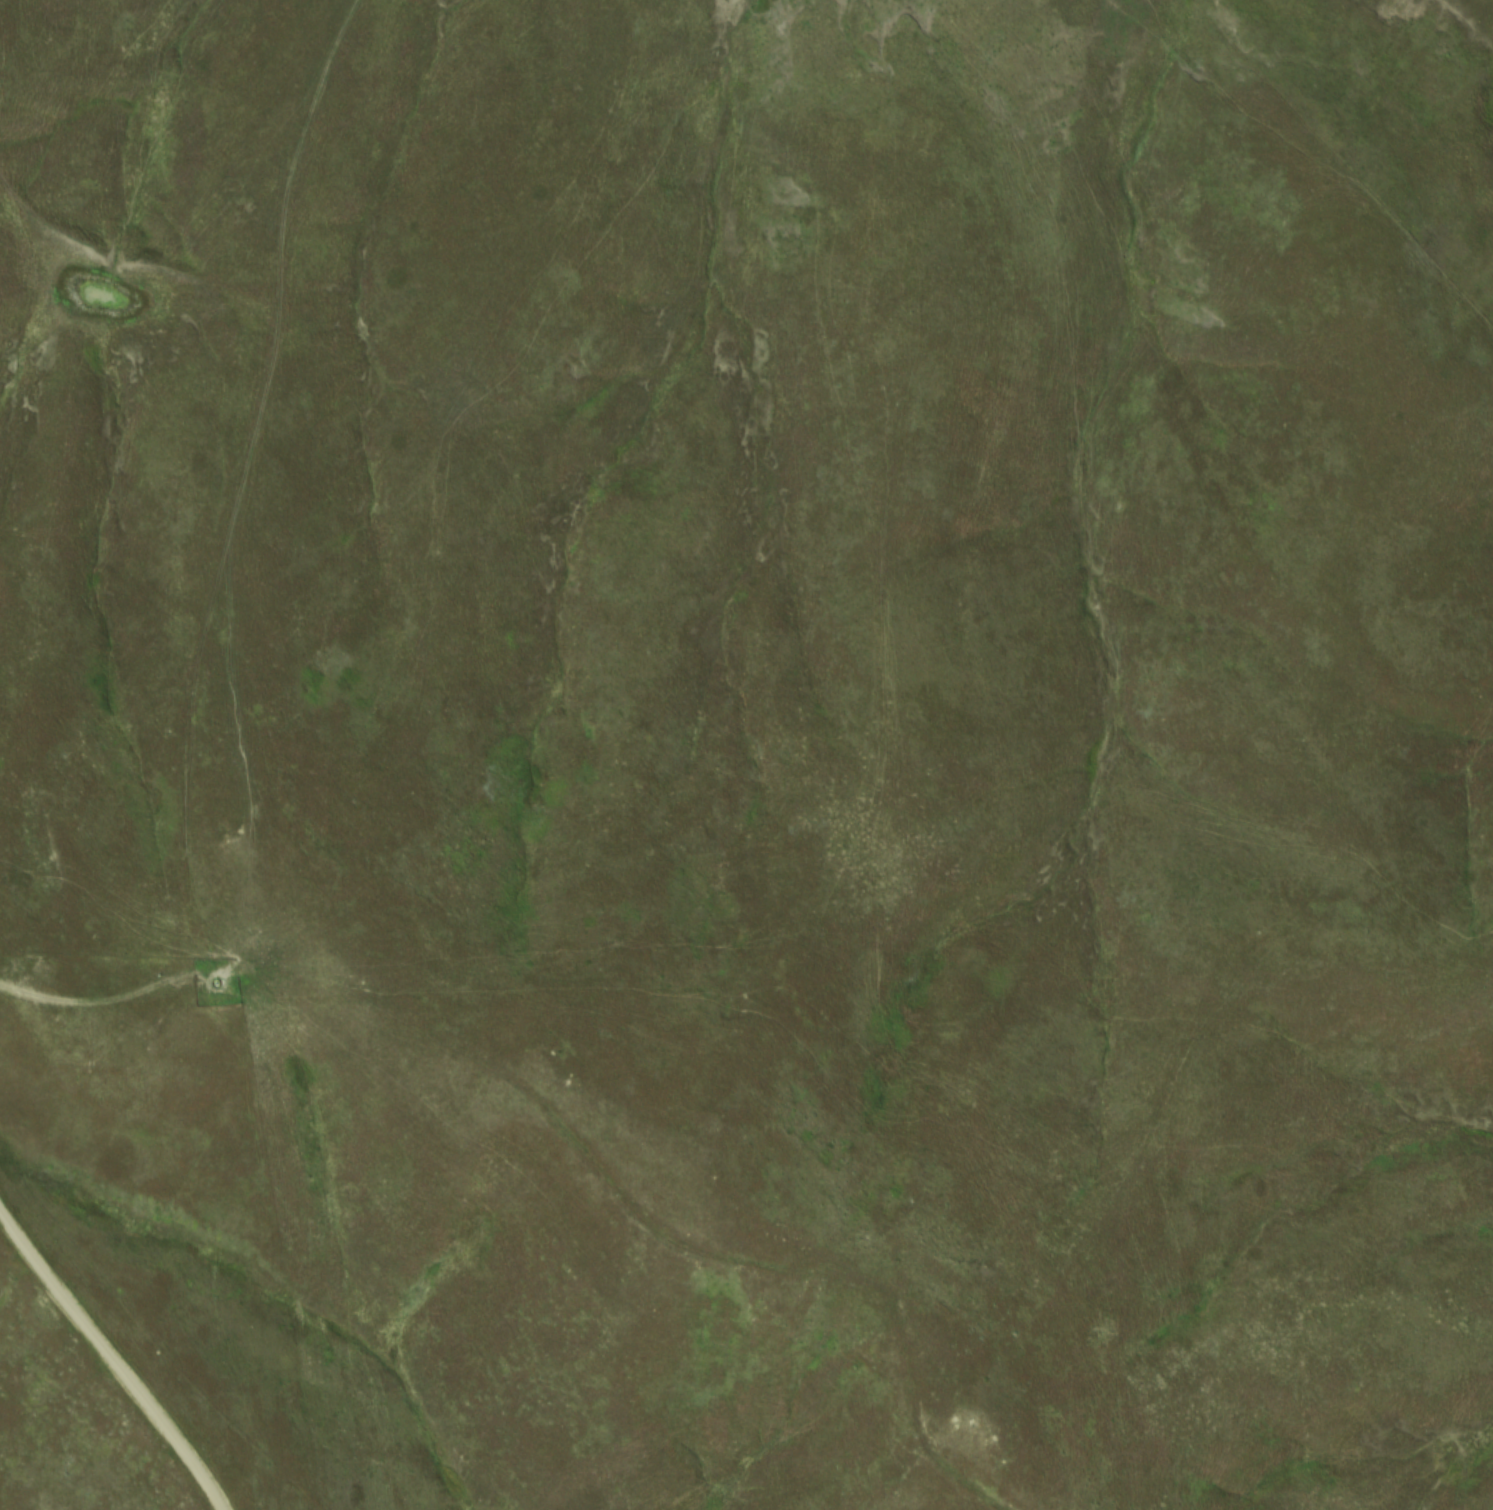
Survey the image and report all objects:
road: (115, 1356)

